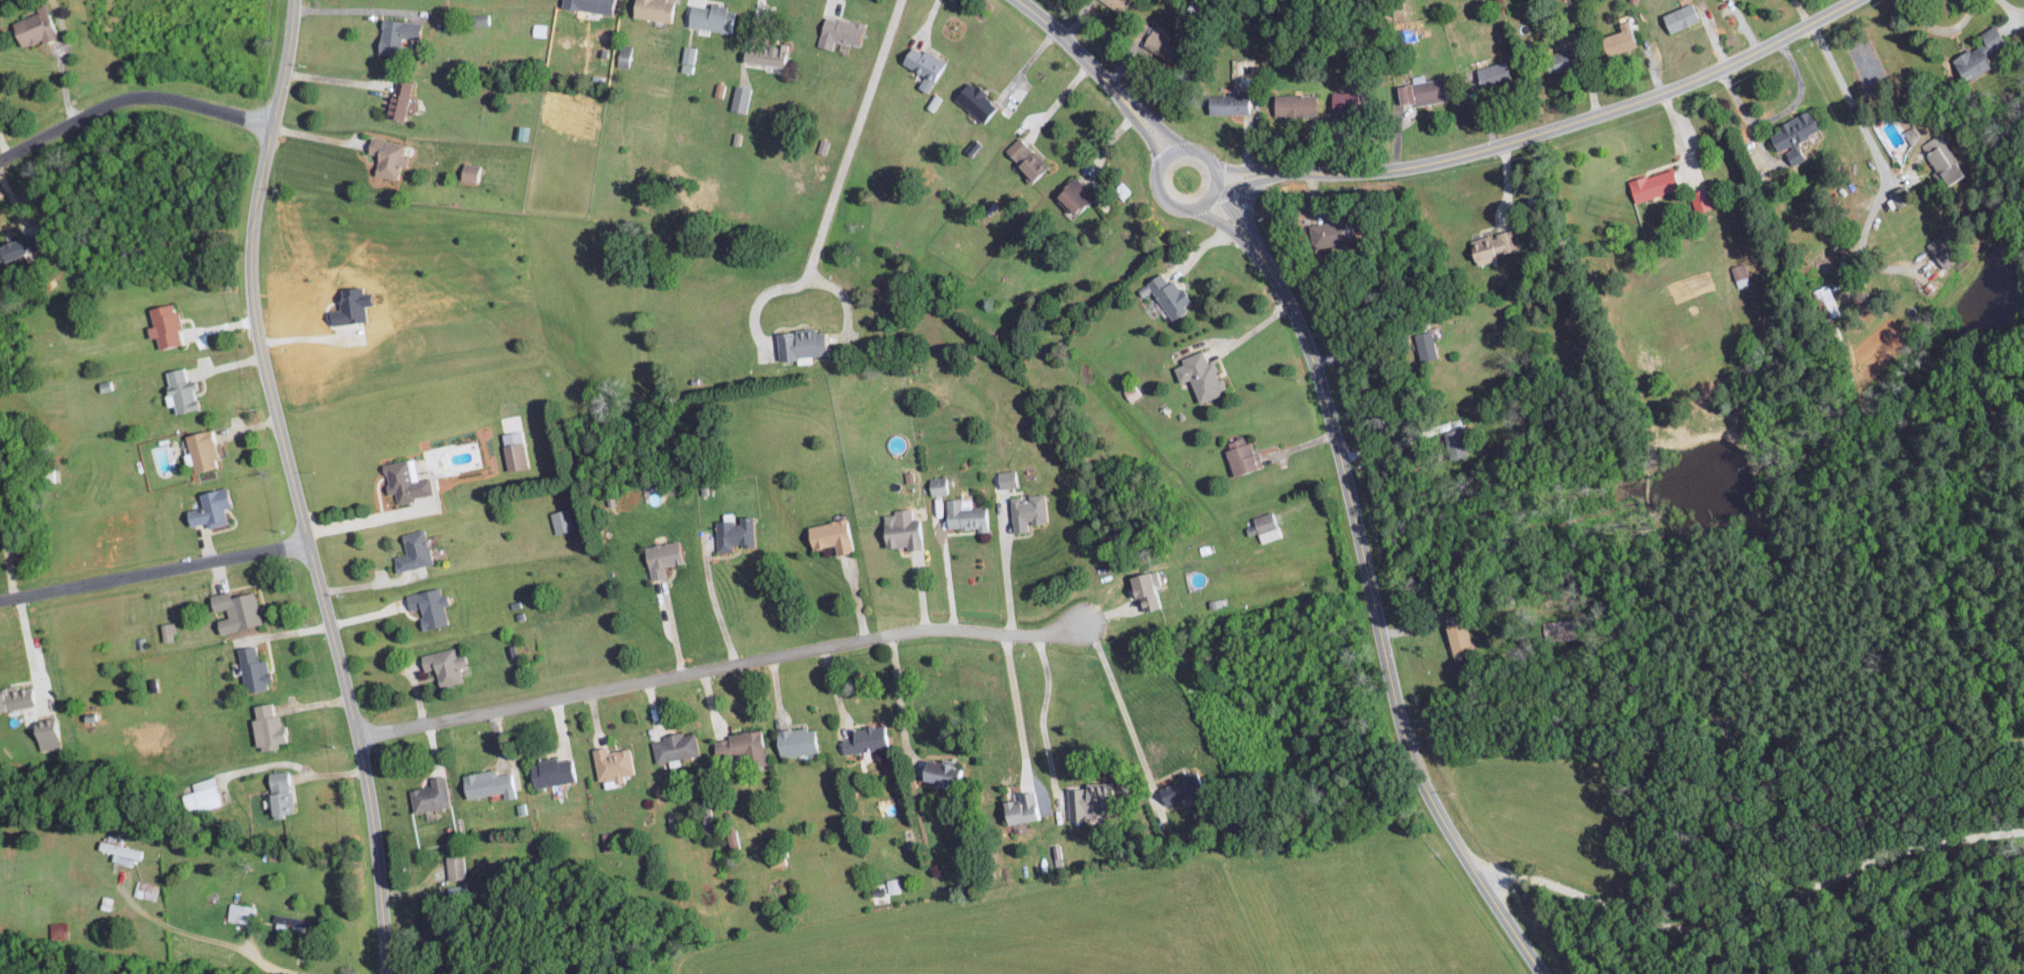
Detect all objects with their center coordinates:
road: (702, 1)
road: (759, 4)
building: (1116, 4)
building: (587, 5)
road: (833, 5)
road: (350, 9)
building: (652, 9)
building: (708, 17)
building: (1678, 17)
building: (478, 18)
building: (32, 27)
road: (1940, 28)
building: (839, 32)
building: (393, 33)
building: (1618, 39)
building: (1156, 42)
building: (763, 54)
building: (1977, 54)
building: (624, 55)
road: (1077, 55)
building: (686, 58)
building: (1557, 61)
building: (922, 65)
building: (1491, 74)
road: (335, 79)
building: (1420, 91)
road: (132, 94)
building: (739, 98)
building: (397, 100)
building: (1341, 100)
building: (973, 101)
building: (933, 102)
road: (1056, 102)
building: (1226, 104)
building: (1293, 104)
road: (1780, 113)
road: (1567, 119)
road: (1163, 128)
building: (1911, 134)
building: (1792, 135)
road: (1149, 139)
road: (3, 141)
road: (1876, 149)
road: (1201, 153)
building: (385, 156)
building: (1024, 157)
building: (1943, 158)
road: (1237, 168)
building: (469, 172)
road: (1244, 183)
building: (1652, 184)
road: (1218, 187)
road: (1216, 191)
road: (832, 194)
building: (1071, 194)
building: (1699, 200)
road: (1244, 207)
road: (1233, 212)
road: (1218, 222)
building: (1327, 234)
building: (1492, 245)
building: (10, 249)
building: (1943, 257)
building: (1739, 274)
building: (1168, 294)
road: (844, 299)
building: (1827, 300)
building: (162, 325)
road: (1240, 337)
road: (307, 340)
building: (797, 344)
building: (1424, 345)
road: (1364, 346)
building: (1198, 375)
building: (178, 390)
building: (1130, 392)
road: (1390, 443)
building: (1455, 443)
building: (199, 449)
building: (512, 450)
building: (1240, 456)
building: (1006, 478)
building: (403, 480)
building: (937, 485)
road: (295, 487)
building: (208, 508)
building: (1025, 512)
building: (965, 516)
road: (365, 520)
building: (559, 520)
building: (1260, 523)
building: (900, 530)
building: (732, 533)
building: (829, 535)
road: (6, 548)
building: (411, 551)
building: (662, 557)
road: (154, 572)
road: (948, 578)
road: (1008, 581)
road: (368, 583)
building: (1144, 588)
road: (714, 603)
building: (426, 606)
building: (234, 610)
road: (1376, 612)
road: (671, 626)
building: (166, 631)
road: (282, 632)
building: (1460, 638)
road: (31, 650)
building: (441, 665)
road: (721, 665)
building: (250, 669)
road: (896, 691)
road: (837, 692)
building: (16, 697)
road: (1016, 704)
road: (1123, 712)
road: (1042, 716)
building: (266, 727)
building: (45, 733)
building: (865, 738)
building: (795, 741)
building: (673, 746)
building: (739, 747)
building: (610, 765)
building: (552, 771)
building: (936, 771)
building: (487, 784)
building: (278, 793)
building: (1175, 793)
building: (199, 795)
building: (428, 795)
building: (1083, 801)
building: (1019, 808)
building: (731, 839)
building: (119, 852)
building: (454, 866)
building: (892, 885)
building: (146, 890)
road: (143, 912)
building: (239, 912)
road: (1754, 912)
building: (58, 930)
road: (238, 947)

